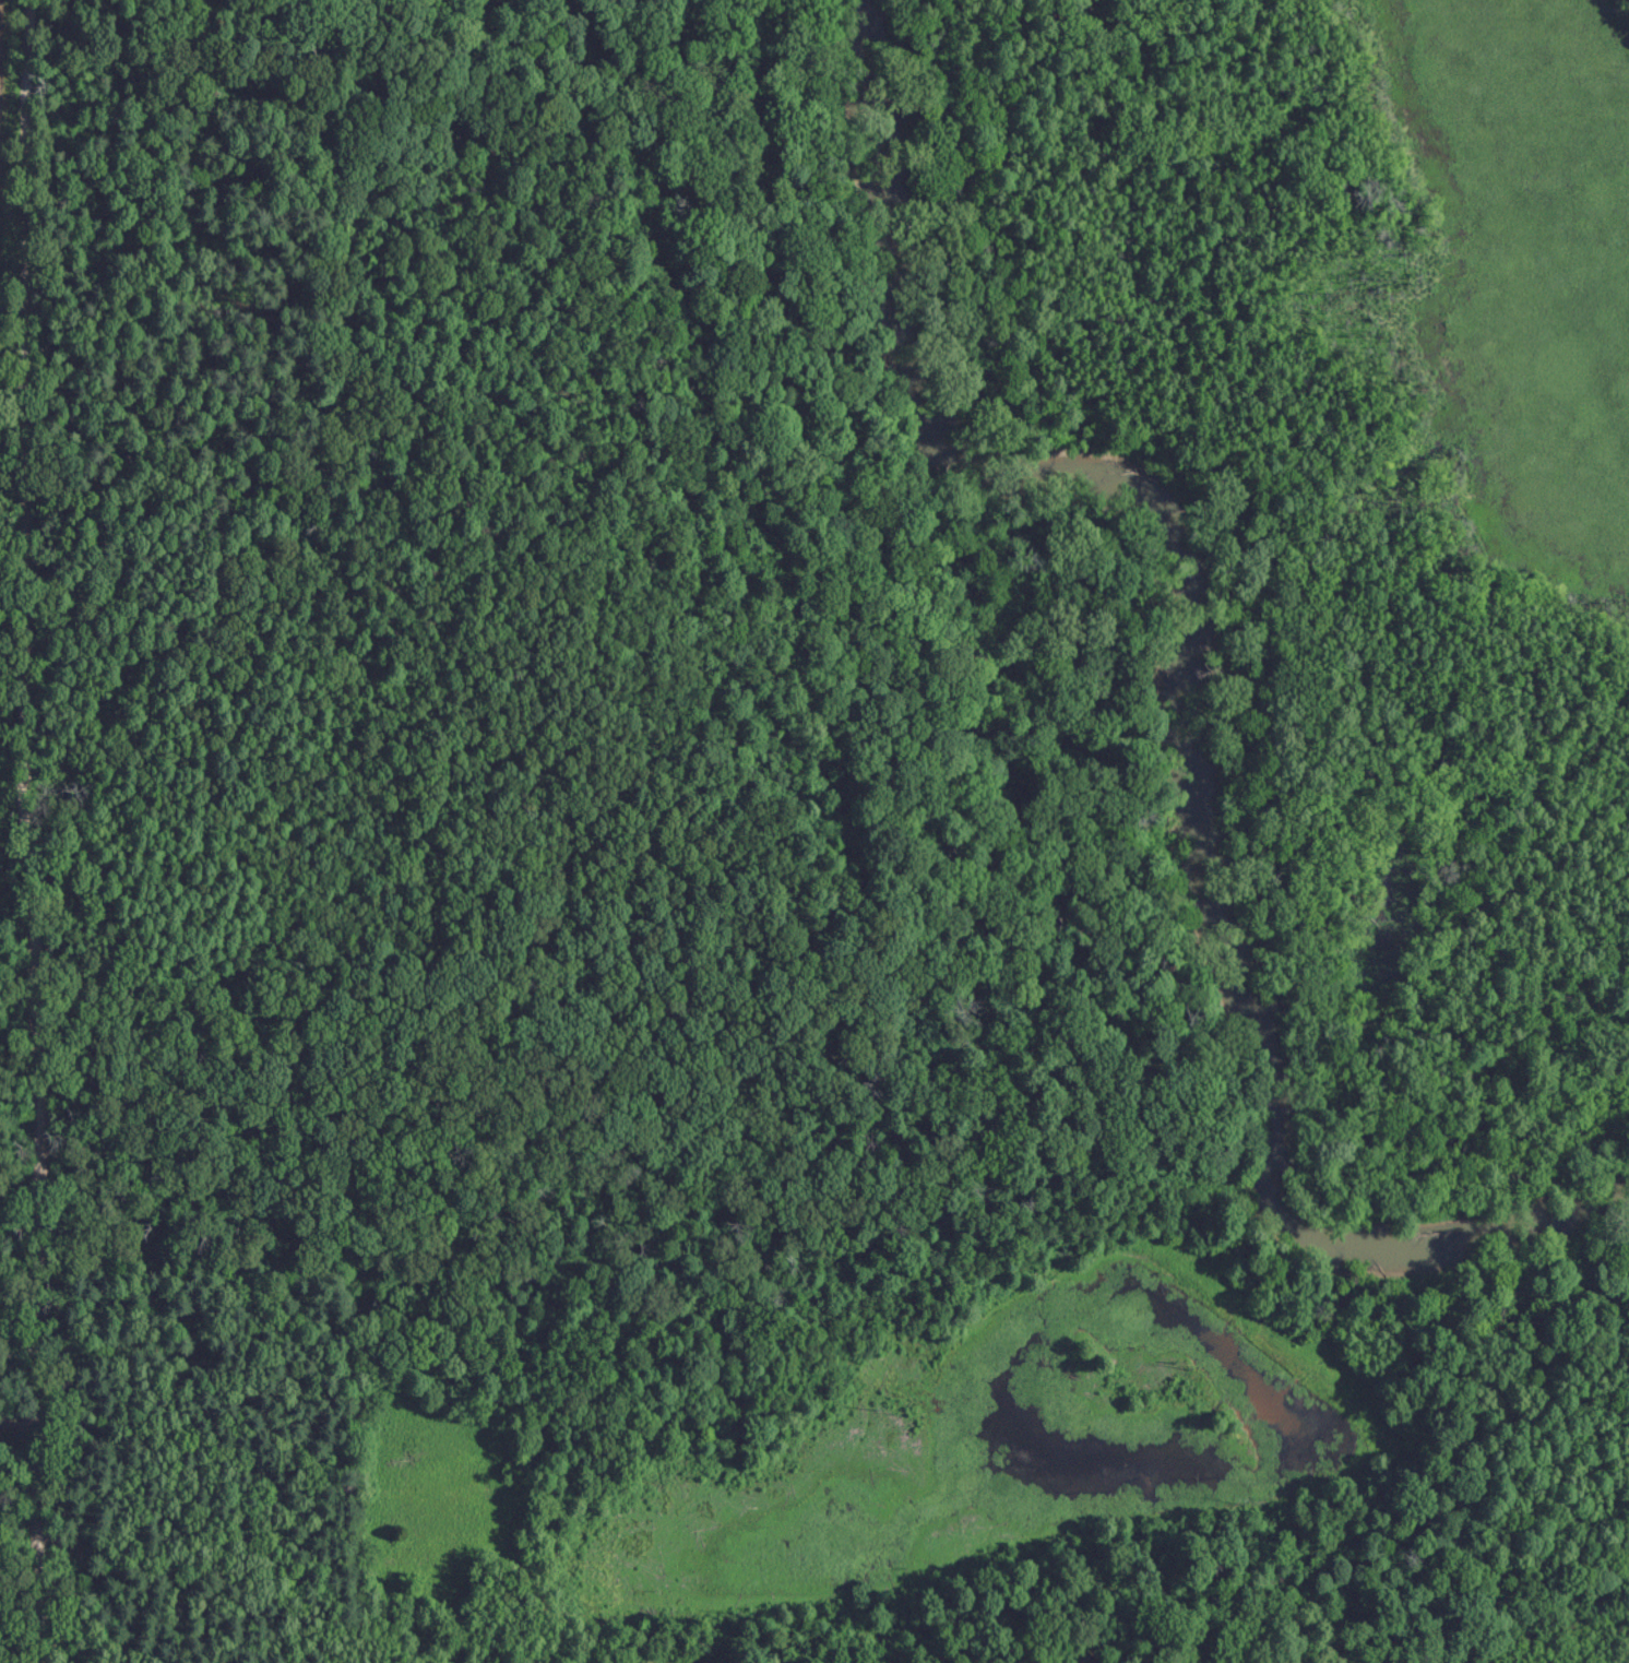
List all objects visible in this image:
river: (1158, 747)
road: (26, 831)

